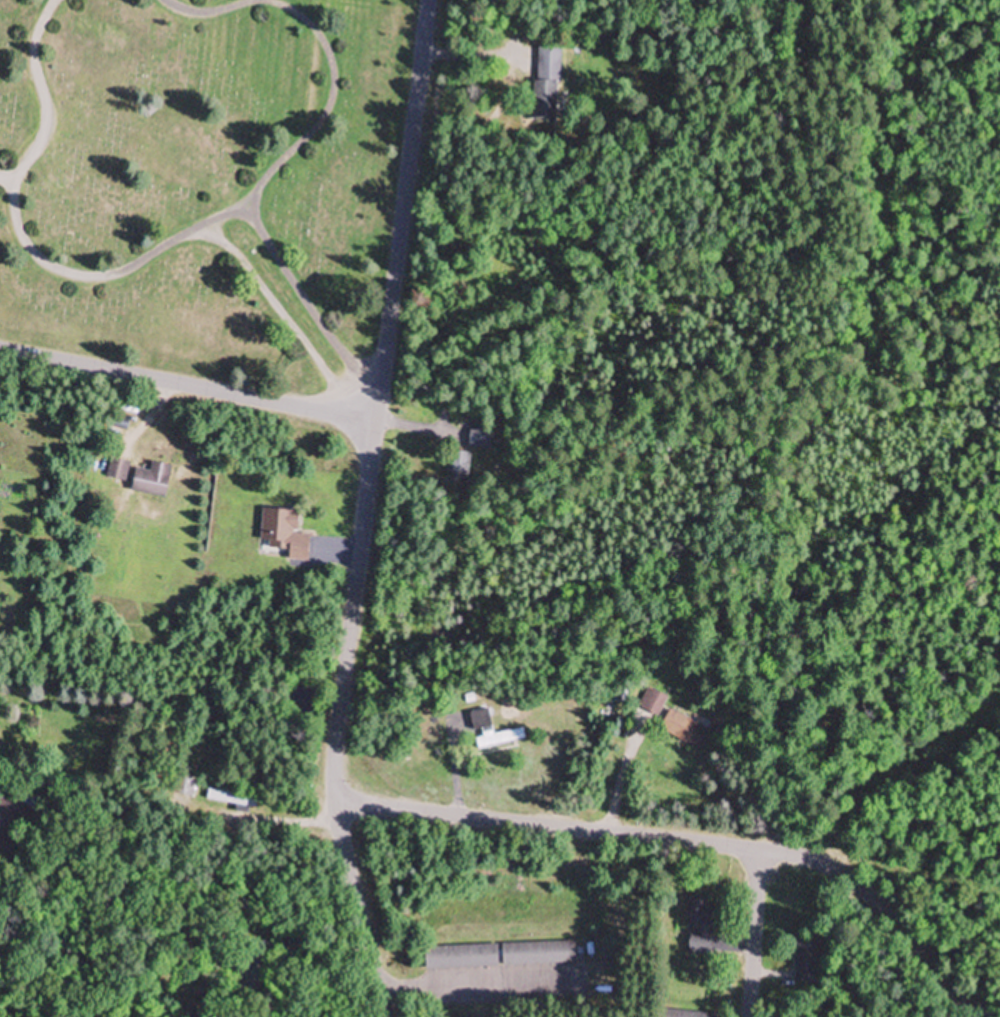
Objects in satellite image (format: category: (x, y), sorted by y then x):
building: (546, 84)
park: (203, 183)
road: (187, 384)
road: (376, 400)
building: (480, 439)
building: (458, 468)
building: (117, 471)
building: (152, 481)
building: (284, 533)
building: (652, 701)
building: (683, 729)
building: (492, 732)
road: (167, 769)
building: (185, 786)
building: (231, 798)
building: (9, 826)
road: (694, 841)
road: (358, 909)
building: (699, 925)
road: (749, 932)
building: (499, 955)
building: (806, 961)
building: (250, 972)
building: (684, 1014)

